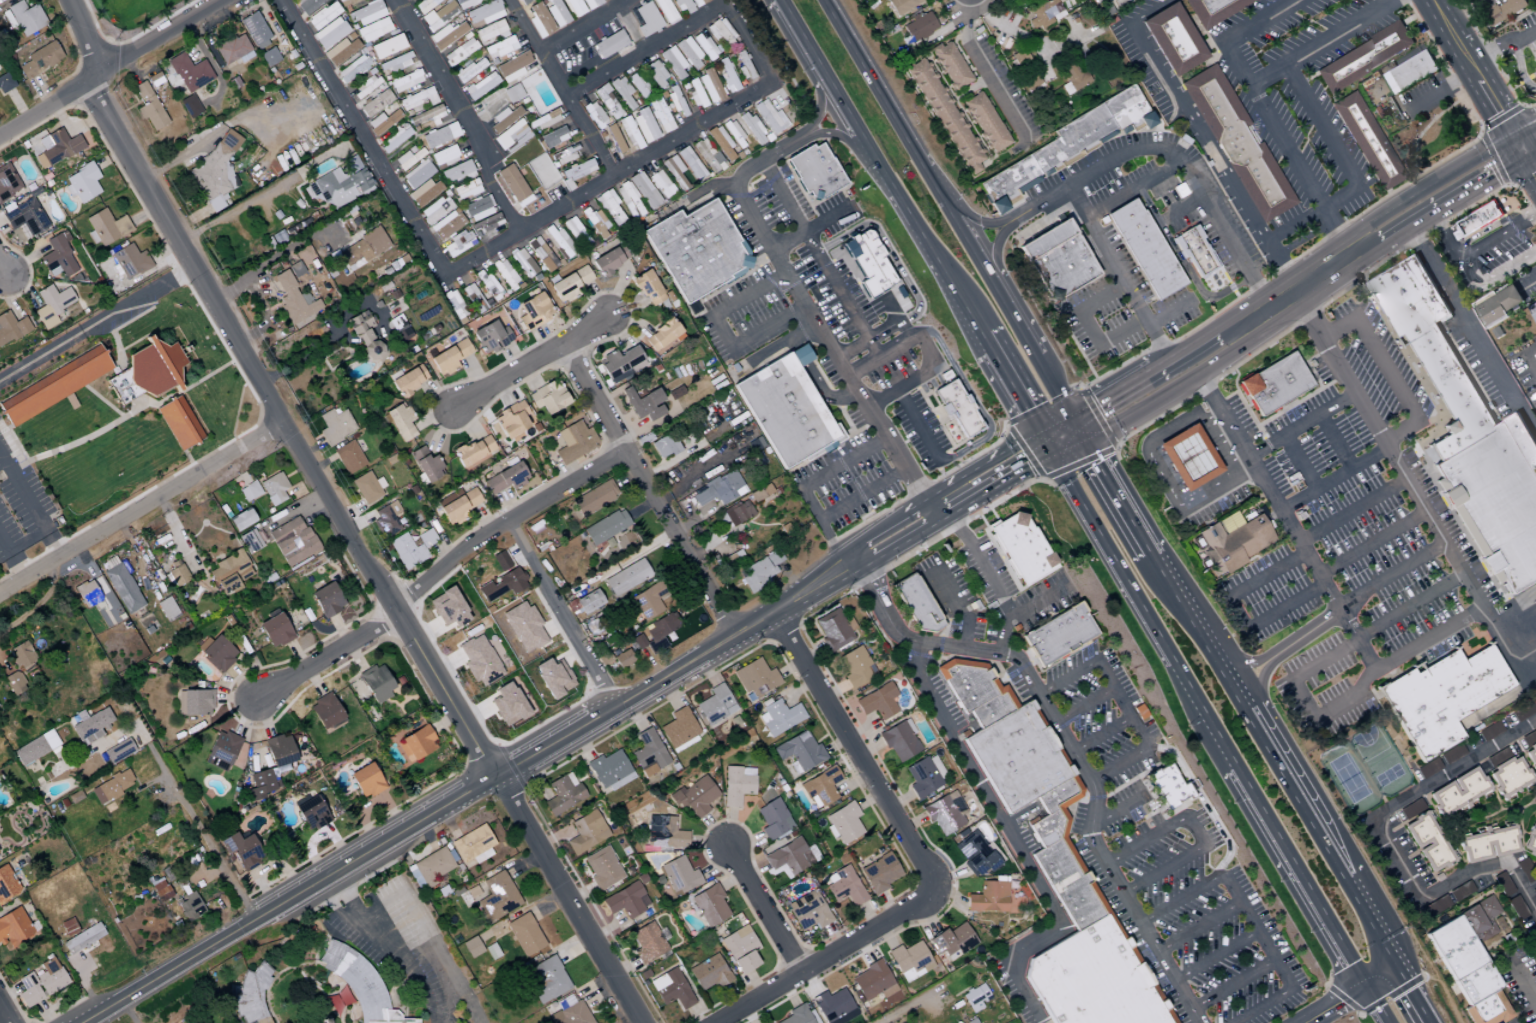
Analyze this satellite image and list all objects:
building: (1059, 0)
building: (524, 1)
building: (698, 2)
building: (466, 3)
building: (590, 4)
road: (1388, 4)
building: (308, 5)
building: (425, 5)
building: (902, 5)
building: (683, 6)
building: (573, 8)
building: (665, 11)
building: (1214, 11)
road: (1465, 11)
building: (1505, 11)
building: (485, 12)
building: (366, 13)
building: (556, 13)
building: (1043, 13)
building: (323, 16)
building: (439, 16)
building: (23, 17)
building: (646, 19)
building: (539, 21)
road: (582, 25)
building: (919, 26)
building: (255, 29)
building: (374, 30)
building: (491, 31)
building: (721, 31)
building: (330, 33)
building: (447, 35)
road: (746, 36)
building: (1173, 40)
building: (608, 44)
building: (387, 46)
building: (704, 46)
road: (1318, 46)
road: (1503, 46)
building: (500, 48)
road: (793, 49)
building: (233, 51)
building: (340, 51)
road: (647, 51)
building: (460, 52)
building: (688, 53)
building: (269, 57)
building: (1364, 57)
building: (40, 59)
building: (672, 62)
building: (395, 63)
building: (949, 64)
road: (110, 66)
road: (1522, 66)
building: (512, 67)
road: (1473, 68)
building: (353, 69)
road: (986, 69)
building: (469, 70)
building: (744, 71)
building: (1411, 72)
building: (190, 73)
building: (655, 74)
building: (1073, 74)
building: (726, 76)
building: (406, 81)
building: (5, 83)
building: (366, 85)
building: (481, 86)
building: (638, 86)
building: (709, 87)
road: (561, 88)
building: (622, 92)
building: (695, 94)
building: (418, 99)
road: (881, 99)
building: (607, 102)
building: (375, 103)
road: (820, 105)
building: (189, 106)
building: (148, 107)
building: (1126, 110)
road: (1264, 110)
road: (461, 114)
building: (593, 114)
road: (1186, 114)
building: (660, 115)
building: (428, 116)
building: (945, 116)
building: (550, 117)
building: (769, 117)
building: (504, 118)
building: (382, 122)
building: (985, 122)
park: (1430, 122)
building: (644, 126)
road: (695, 128)
building: (751, 128)
road: (1526, 130)
road: (801, 132)
building: (628, 133)
building: (733, 134)
building: (440, 135)
traffic signals: (1516, 136)
building: (511, 137)
building: (553, 137)
building: (614, 138)
road: (850, 138)
building: (1073, 140)
building: (1368, 141)
building: (720, 143)
building: (1238, 143)
road: (802, 144)
building: (56, 148)
road: (1523, 148)
road: (775, 151)
road: (1167, 153)
building: (563, 156)
building: (707, 156)
building: (444, 157)
building: (408, 158)
road: (1533, 158)
traffic signals: (1530, 160)
building: (690, 163)
road: (879, 165)
road: (1533, 165)
building: (214, 167)
road: (385, 169)
building: (541, 171)
building: (814, 171)
road: (1350, 171)
building: (457, 172)
building: (575, 172)
building: (674, 172)
building: (417, 174)
building: (7, 182)
road: (1437, 182)
building: (82, 183)
building: (1008, 183)
building: (341, 184)
building: (660, 184)
building: (513, 185)
building: (466, 189)
building: (643, 190)
road: (1131, 190)
building: (423, 192)
road: (782, 198)
building: (628, 200)
road: (1449, 204)
road: (567, 205)
building: (609, 207)
building: (477, 208)
building: (436, 210)
road: (1180, 210)
road: (234, 211)
building: (24, 216)
building: (1481, 219)
road: (985, 223)
building: (486, 224)
building: (595, 224)
building: (446, 225)
building: (106, 227)
building: (574, 231)
road: (807, 231)
road: (1303, 239)
building: (458, 243)
building: (363, 249)
building: (694, 250)
building: (1145, 250)
road: (1476, 251)
building: (1196, 253)
building: (541, 254)
road: (993, 254)
building: (59, 257)
road: (975, 257)
building: (609, 259)
building: (130, 261)
road: (268, 261)
building: (523, 262)
road: (826, 262)
building: (868, 262)
building: (1058, 262)
road: (1182, 264)
road: (1279, 267)
building: (295, 269)
road: (4, 271)
road: (1115, 272)
road: (1317, 272)
building: (505, 274)
road: (1494, 280)
building: (569, 284)
building: (490, 287)
building: (647, 288)
road: (890, 288)
road: (845, 293)
road: (1260, 293)
building: (1408, 298)
road: (136, 299)
building: (294, 300)
building: (51, 305)
building: (454, 305)
building: (1502, 305)
building: (533, 311)
building: (1534, 313)
road: (1168, 314)
road: (1257, 320)
road: (815, 325)
road: (864, 325)
road: (1474, 325)
building: (11, 327)
road: (1088, 327)
building: (399, 328)
road: (724, 332)
building: (660, 335)
road: (1022, 336)
building: (366, 337)
building: (491, 337)
road: (1212, 338)
road: (331, 339)
road: (984, 342)
road: (39, 355)
building: (1535, 355)
road: (1164, 356)
building: (449, 357)
road: (883, 357)
building: (620, 364)
road: (530, 365)
road: (1389, 369)
building: (146, 373)
building: (408, 380)
building: (54, 385)
road: (1050, 385)
road: (901, 387)
building: (1275, 388)
road: (1107, 390)
building: (1450, 390)
road: (266, 393)
building: (674, 393)
road: (1169, 393)
building: (548, 397)
road: (1017, 398)
road: (973, 401)
building: (643, 404)
building: (956, 407)
building: (786, 408)
traffic signals: (1067, 415)
building: (511, 419)
road: (1209, 419)
building: (400, 422)
building: (178, 423)
road: (1300, 425)
building: (335, 426)
road: (918, 426)
road: (1075, 429)
road: (1056, 430)
road: (1178, 440)
building: (573, 442)
road: (1333, 442)
traffic signals: (1084, 443)
road: (1240, 443)
road: (1064, 444)
traffic signals: (1045, 445)
building: (664, 447)
building: (474, 451)
building: (348, 457)
building: (1189, 458)
gas station: (1189, 458)
road: (842, 463)
gas station: (1191, 463)
road: (1298, 463)
building: (426, 465)
building: (505, 478)
road: (1332, 479)
road: (1407, 485)
building: (273, 488)
building: (367, 488)
building: (719, 489)
road: (647, 490)
building: (249, 491)
building: (760, 493)
road: (860, 494)
road: (1117, 497)
building: (594, 498)
building: (1496, 499)
road: (1186, 500)
building: (458, 507)
road: (29, 508)
road: (141, 508)
building: (393, 508)
road: (1352, 512)
building: (738, 513)
building: (241, 520)
building: (385, 522)
road: (503, 525)
road: (821, 526)
building: (605, 527)
building: (253, 539)
building: (292, 541)
road: (1371, 544)
building: (1235, 546)
building: (1022, 548)
road: (1110, 553)
road: (12, 558)
building: (760, 570)
building: (230, 571)
building: (177, 575)
building: (626, 577)
road: (1391, 577)
building: (501, 579)
road: (991, 584)
building: (121, 585)
building: (90, 591)
road: (1327, 591)
building: (327, 599)
building: (586, 602)
building: (647, 602)
road: (879, 602)
road: (961, 605)
building: (913, 607)
building: (448, 608)
building: (167, 609)
road: (769, 611)
road: (562, 614)
building: (109, 615)
road: (1236, 615)
road: (1519, 621)
building: (523, 627)
building: (660, 630)
building: (832, 630)
building: (275, 631)
road: (1002, 634)
building: (638, 641)
building: (1056, 641)
road: (1285, 648)
building: (218, 653)
building: (21, 655)
road: (325, 658)
building: (622, 658)
building: (479, 660)
building: (855, 667)
road: (1068, 676)
building: (552, 677)
building: (754, 678)
building: (14, 682)
building: (376, 683)
building: (1441, 698)
road: (1301, 699)
building: (193, 702)
building: (877, 702)
road: (1122, 703)
building: (507, 704)
building: (715, 705)
road: (1085, 705)
road: (1204, 708)
building: (325, 711)
building: (779, 717)
building: (89, 725)
building: (679, 730)
building: (1489, 731)
road: (1103, 734)
building: (900, 741)
building: (416, 744)
building: (35, 748)
building: (1530, 748)
building: (221, 750)
building: (279, 750)
building: (118, 751)
building: (799, 751)
building: (647, 753)
road: (1274, 756)
road: (858, 757)
road: (1121, 763)
building: (608, 770)
building: (1505, 771)
building: (924, 776)
road: (460, 778)
building: (366, 780)
parking lot: (1099, 782)
building: (261, 784)
building: (736, 785)
building: (820, 786)
building: (111, 787)
road: (1094, 791)
building: (1456, 791)
building: (562, 794)
building: (1165, 794)
building: (694, 796)
building: (1410, 809)
building: (311, 813)
building: (945, 813)
road: (1116, 814)
building: (772, 819)
building: (843, 823)
building: (585, 832)
building: (664, 833)
road: (202, 834)
road: (1013, 841)
road: (1145, 841)
building: (1529, 841)
building: (1426, 843)
building: (471, 844)
building: (1487, 844)
road: (1384, 846)
building: (241, 850)
building: (975, 853)
building: (787, 857)
building: (1053, 864)
building: (431, 867)
road: (1299, 867)
building: (602, 868)
road: (1165, 869)
building: (878, 873)
building: (679, 875)
building: (7, 884)
building: (1502, 885)
building: (843, 886)
building: (160, 891)
building: (1534, 892)
building: (496, 897)
building: (988, 898)
road: (567, 899)
road: (1183, 899)
road: (286, 900)
building: (625, 900)
road: (1238, 901)
building: (709, 905)
building: (190, 906)
building: (1515, 907)
road: (763, 908)
building: (807, 911)
road: (352, 921)
road: (1198, 926)
building: (14, 928)
building: (525, 934)
building: (82, 938)
building: (952, 940)
building: (1533, 942)
building: (647, 943)
building: (471, 947)
building: (740, 949)
building: (491, 951)
road: (1215, 956)
road: (408, 961)
road: (817, 961)
building: (910, 961)
building: (1469, 961)
traffic signals: (1398, 963)
building: (709, 973)
building: (50, 976)
building: (545, 979)
building: (871, 980)
traffic signals: (1367, 980)
building: (359, 984)
road: (1522, 984)
road: (1233, 986)
building: (671, 989)
building: (29, 990)
road: (1346, 992)
road: (1415, 993)
building: (250, 994)
building: (975, 997)
road: (1379, 1001)
road: (911, 1003)
road: (1262, 1006)
building: (833, 1007)
road: (129, 1010)
building: (569, 1012)
road: (5, 1014)
building: (799, 1015)
building: (196, 1022)

